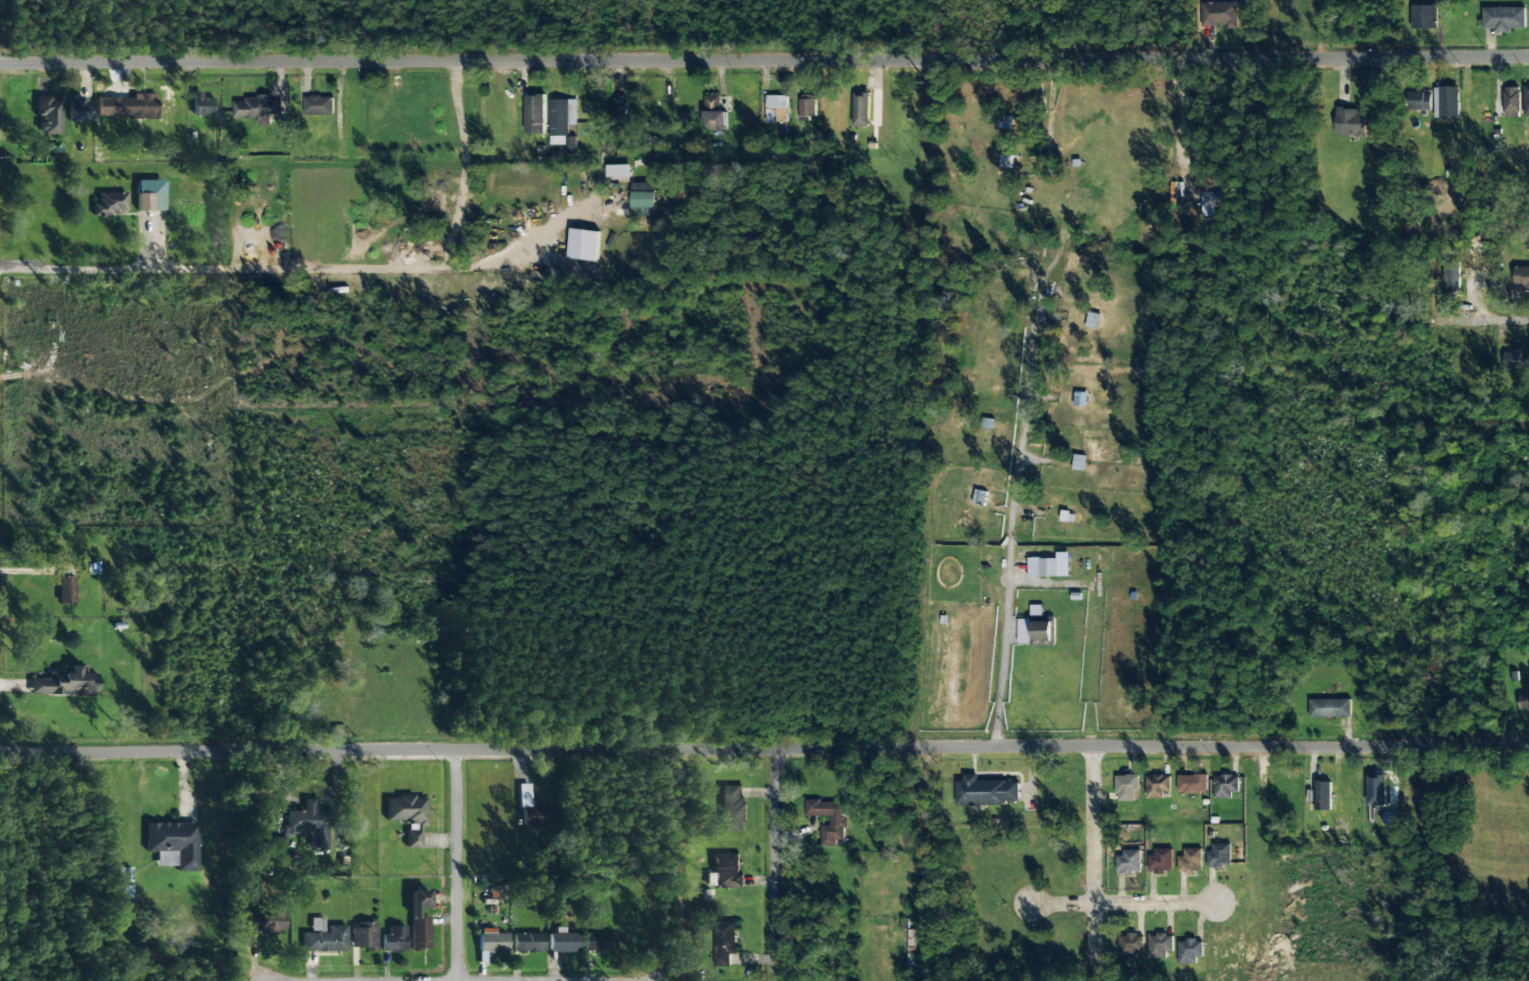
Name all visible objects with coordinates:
building: (1217, 14)
building: (1423, 17)
building: (1503, 18)
road: (764, 62)
building: (1420, 99)
building: (1526, 101)
building: (1446, 102)
building: (1511, 102)
building: (202, 105)
building: (318, 105)
building: (126, 106)
building: (807, 107)
building: (777, 108)
building: (258, 109)
building: (78, 110)
building: (860, 110)
building: (714, 113)
building: (534, 114)
building: (49, 115)
building: (561, 119)
building: (1350, 123)
building: (619, 171)
building: (1006, 173)
building: (150, 195)
building: (643, 199)
building: (110, 204)
building: (1207, 204)
building: (584, 244)
building: (1451, 275)
building: (1521, 276)
building: (1092, 321)
road: (1480, 322)
building: (1516, 359)
building: (1078, 462)
building: (965, 517)
building: (1042, 567)
building: (67, 589)
building: (1040, 628)
building: (1023, 631)
building: (63, 684)
building: (1524, 699)
building: (1329, 708)
road: (764, 751)
building: (1192, 784)
building: (1156, 785)
building: (1225, 786)
building: (1126, 787)
building: (1376, 789)
building: (986, 791)
building: (1322, 796)
building: (532, 808)
building: (733, 808)
building: (407, 816)
building: (1389, 818)
building: (838, 820)
building: (309, 825)
building: (173, 844)
building: (272, 847)
building: (1219, 855)
road: (1091, 860)
building: (1160, 861)
building: (1190, 861)
building: (1128, 862)
road: (775, 866)
road: (458, 867)
building: (727, 871)
road: (1120, 903)
building: (419, 920)
building: (267, 921)
building: (363, 935)
building: (324, 937)
building: (394, 939)
building: (563, 940)
building: (528, 942)
building: (598, 942)
building: (724, 942)
building: (491, 943)
building: (1131, 945)
building: (1159, 946)
building: (1190, 950)

